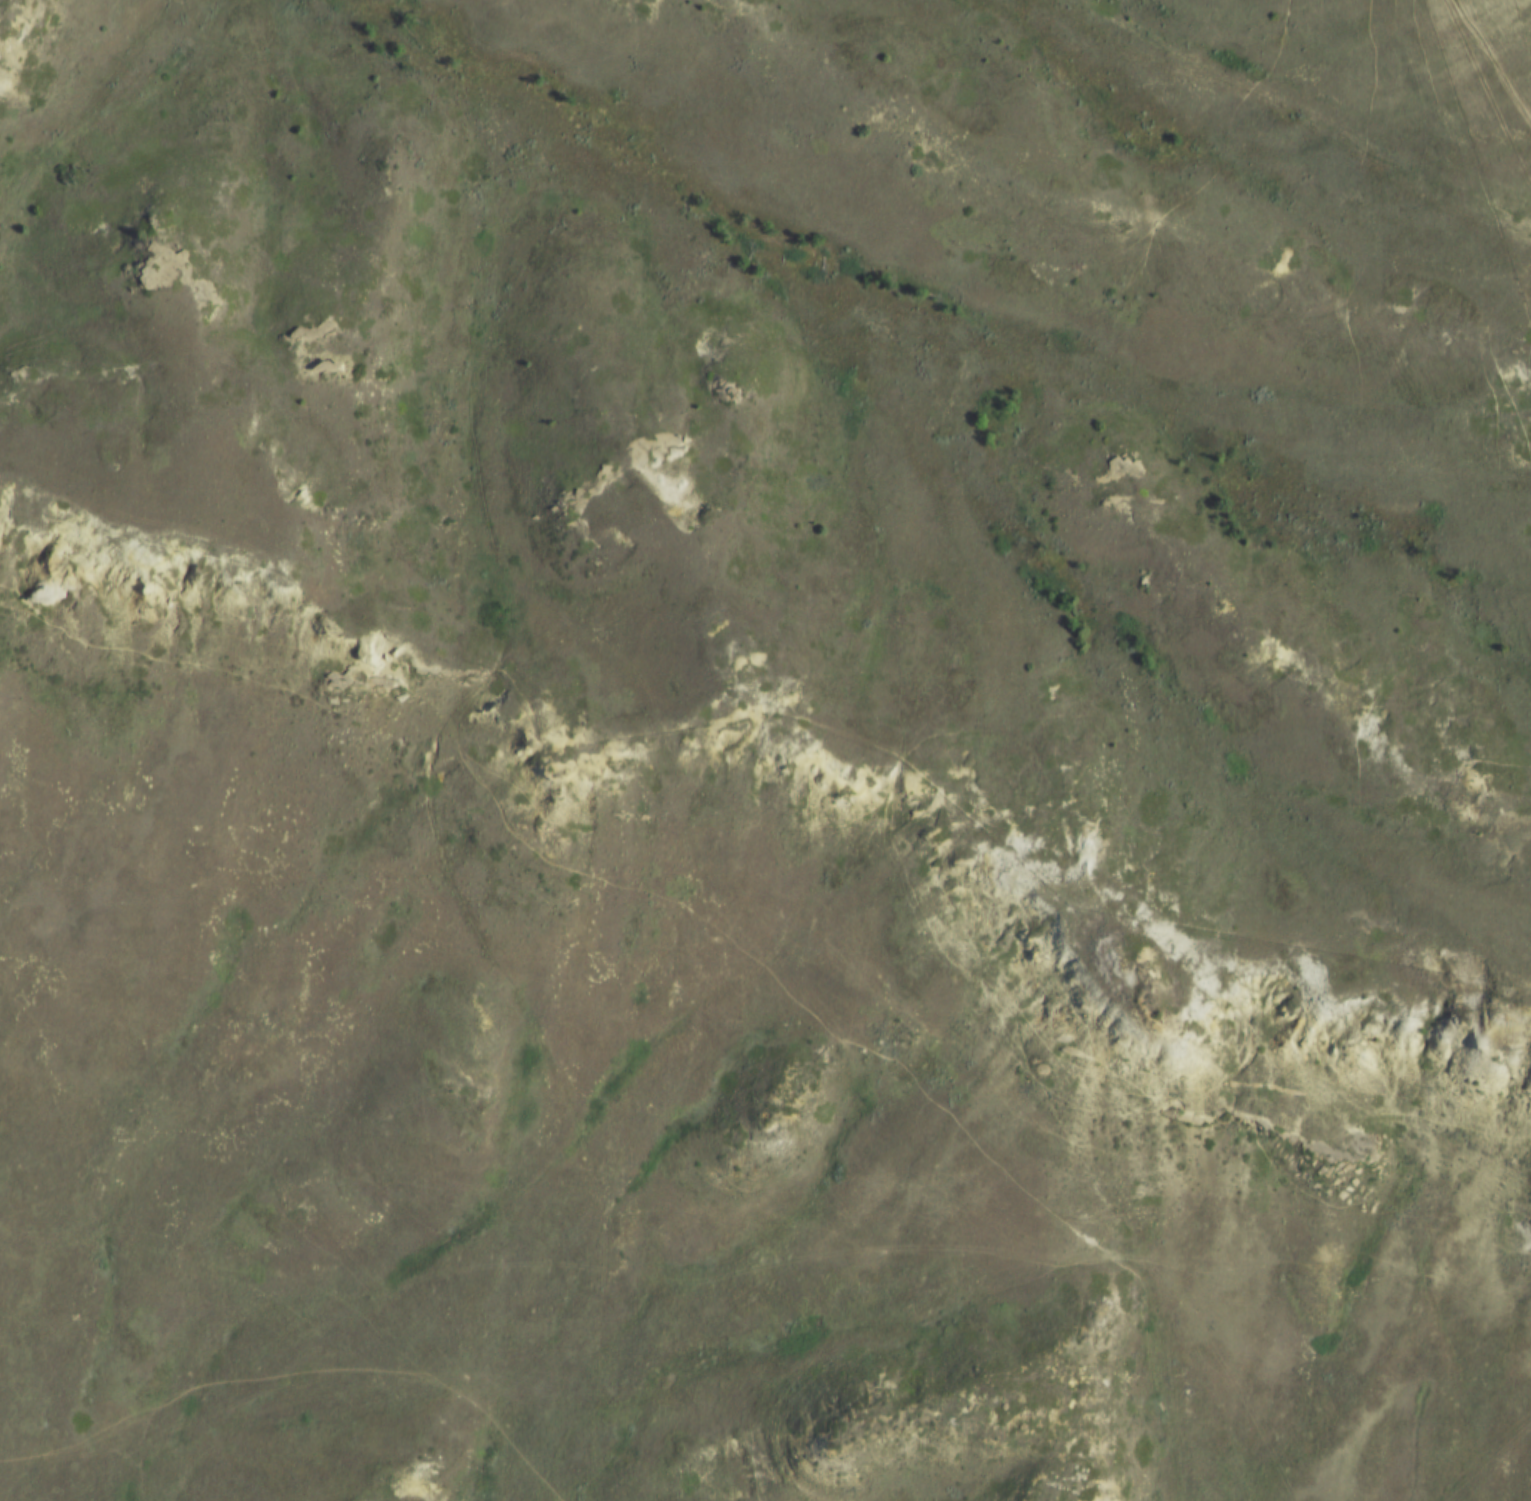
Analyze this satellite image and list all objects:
road: (1519, 41)

